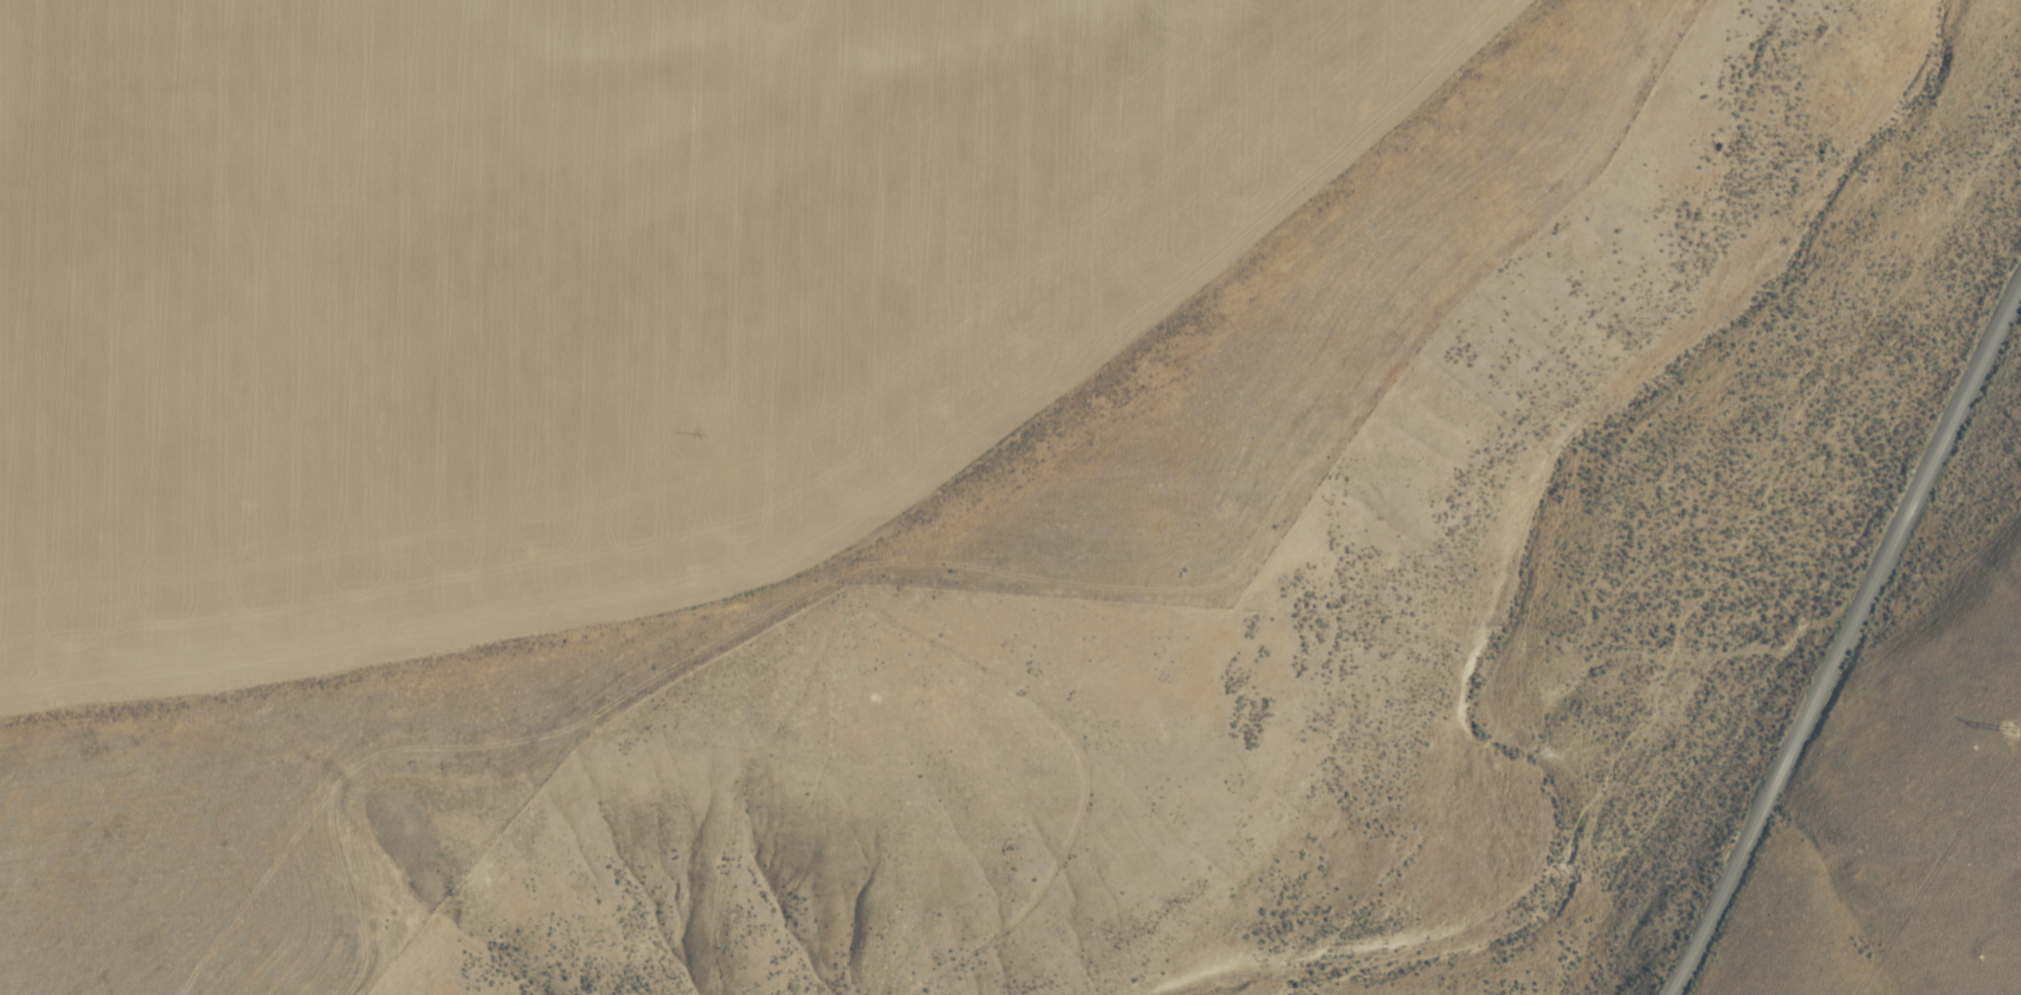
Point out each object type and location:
road: (1845, 638)

